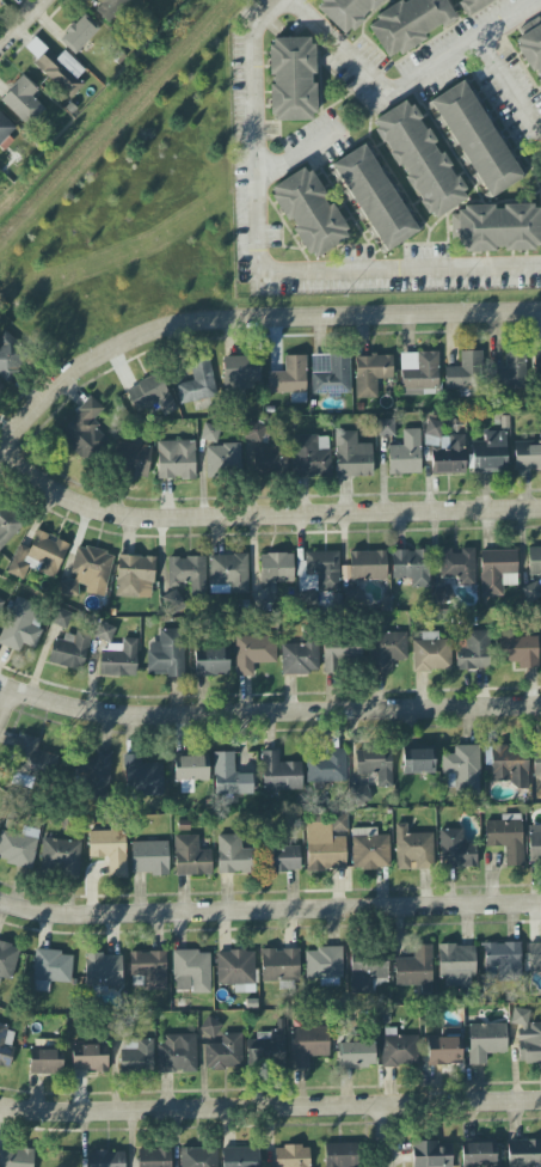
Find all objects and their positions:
building: (0, 0)
building: (473, 5)
building: (109, 7)
building: (346, 12)
road: (21, 23)
building: (408, 24)
building: (78, 33)
building: (531, 49)
building: (61, 72)
road: (515, 74)
building: (291, 79)
road: (405, 81)
building: (23, 102)
building: (5, 127)
building: (477, 139)
road: (303, 145)
building: (419, 159)
building: (374, 197)
building: (309, 213)
building: (496, 227)
road: (268, 270)
road: (250, 324)
building: (10, 360)
building: (536, 362)
building: (419, 369)
building: (465, 372)
building: (509, 373)
building: (330, 374)
building: (371, 374)
building: (238, 377)
building: (290, 379)
building: (197, 385)
building: (0, 387)
building: (150, 395)
building: (385, 428)
building: (84, 429)
building: (253, 432)
building: (209, 433)
building: (434, 435)
road: (1, 447)
building: (490, 453)
building: (405, 454)
building: (351, 456)
building: (527, 457)
building: (308, 458)
building: (449, 458)
building: (131, 459)
building: (222, 459)
building: (176, 460)
building: (269, 460)
road: (260, 518)
building: (7, 525)
building: (38, 556)
building: (534, 561)
building: (368, 566)
building: (457, 566)
building: (411, 567)
building: (276, 568)
building: (319, 570)
building: (87, 572)
building: (497, 572)
building: (228, 574)
building: (189, 575)
building: (135, 576)
building: (0, 601)
building: (61, 618)
building: (19, 625)
building: (104, 631)
building: (518, 649)
building: (69, 650)
building: (386, 650)
building: (473, 652)
building: (166, 653)
building: (253, 653)
building: (431, 653)
building: (342, 655)
building: (299, 658)
building: (118, 659)
building: (211, 662)
road: (7, 701)
road: (268, 713)
building: (35, 759)
building: (418, 760)
building: (508, 763)
building: (536, 764)
building: (375, 765)
building: (326, 768)
building: (463, 768)
building: (98, 771)
building: (190, 771)
building: (279, 774)
building: (229, 776)
building: (142, 777)
building: (359, 795)
building: (505, 837)
building: (534, 843)
building: (326, 844)
building: (18, 847)
building: (412, 848)
building: (370, 849)
building: (109, 850)
building: (455, 850)
building: (60, 856)
building: (233, 856)
building: (149, 857)
building: (191, 857)
building: (284, 859)
road: (268, 908)
building: (534, 954)
building: (7, 961)
building: (503, 961)
building: (279, 965)
building: (456, 965)
building: (324, 966)
building: (414, 967)
building: (51, 969)
building: (149, 969)
building: (103, 970)
building: (236, 970)
building: (191, 971)
building: (367, 973)
building: (210, 1031)
building: (527, 1037)
building: (486, 1041)
building: (6, 1044)
building: (307, 1045)
building: (444, 1050)
building: (399, 1051)
building: (225, 1053)
building: (177, 1055)
building: (357, 1055)
building: (91, 1058)
building: (45, 1061)
road: (270, 1105)
road: (387, 1135)
building: (523, 1153)
building: (431, 1154)
building: (340, 1155)
building: (478, 1155)
building: (240, 1156)
building: (293, 1156)
building: (16, 1157)
building: (154, 1157)
building: (198, 1157)
building: (106, 1159)

